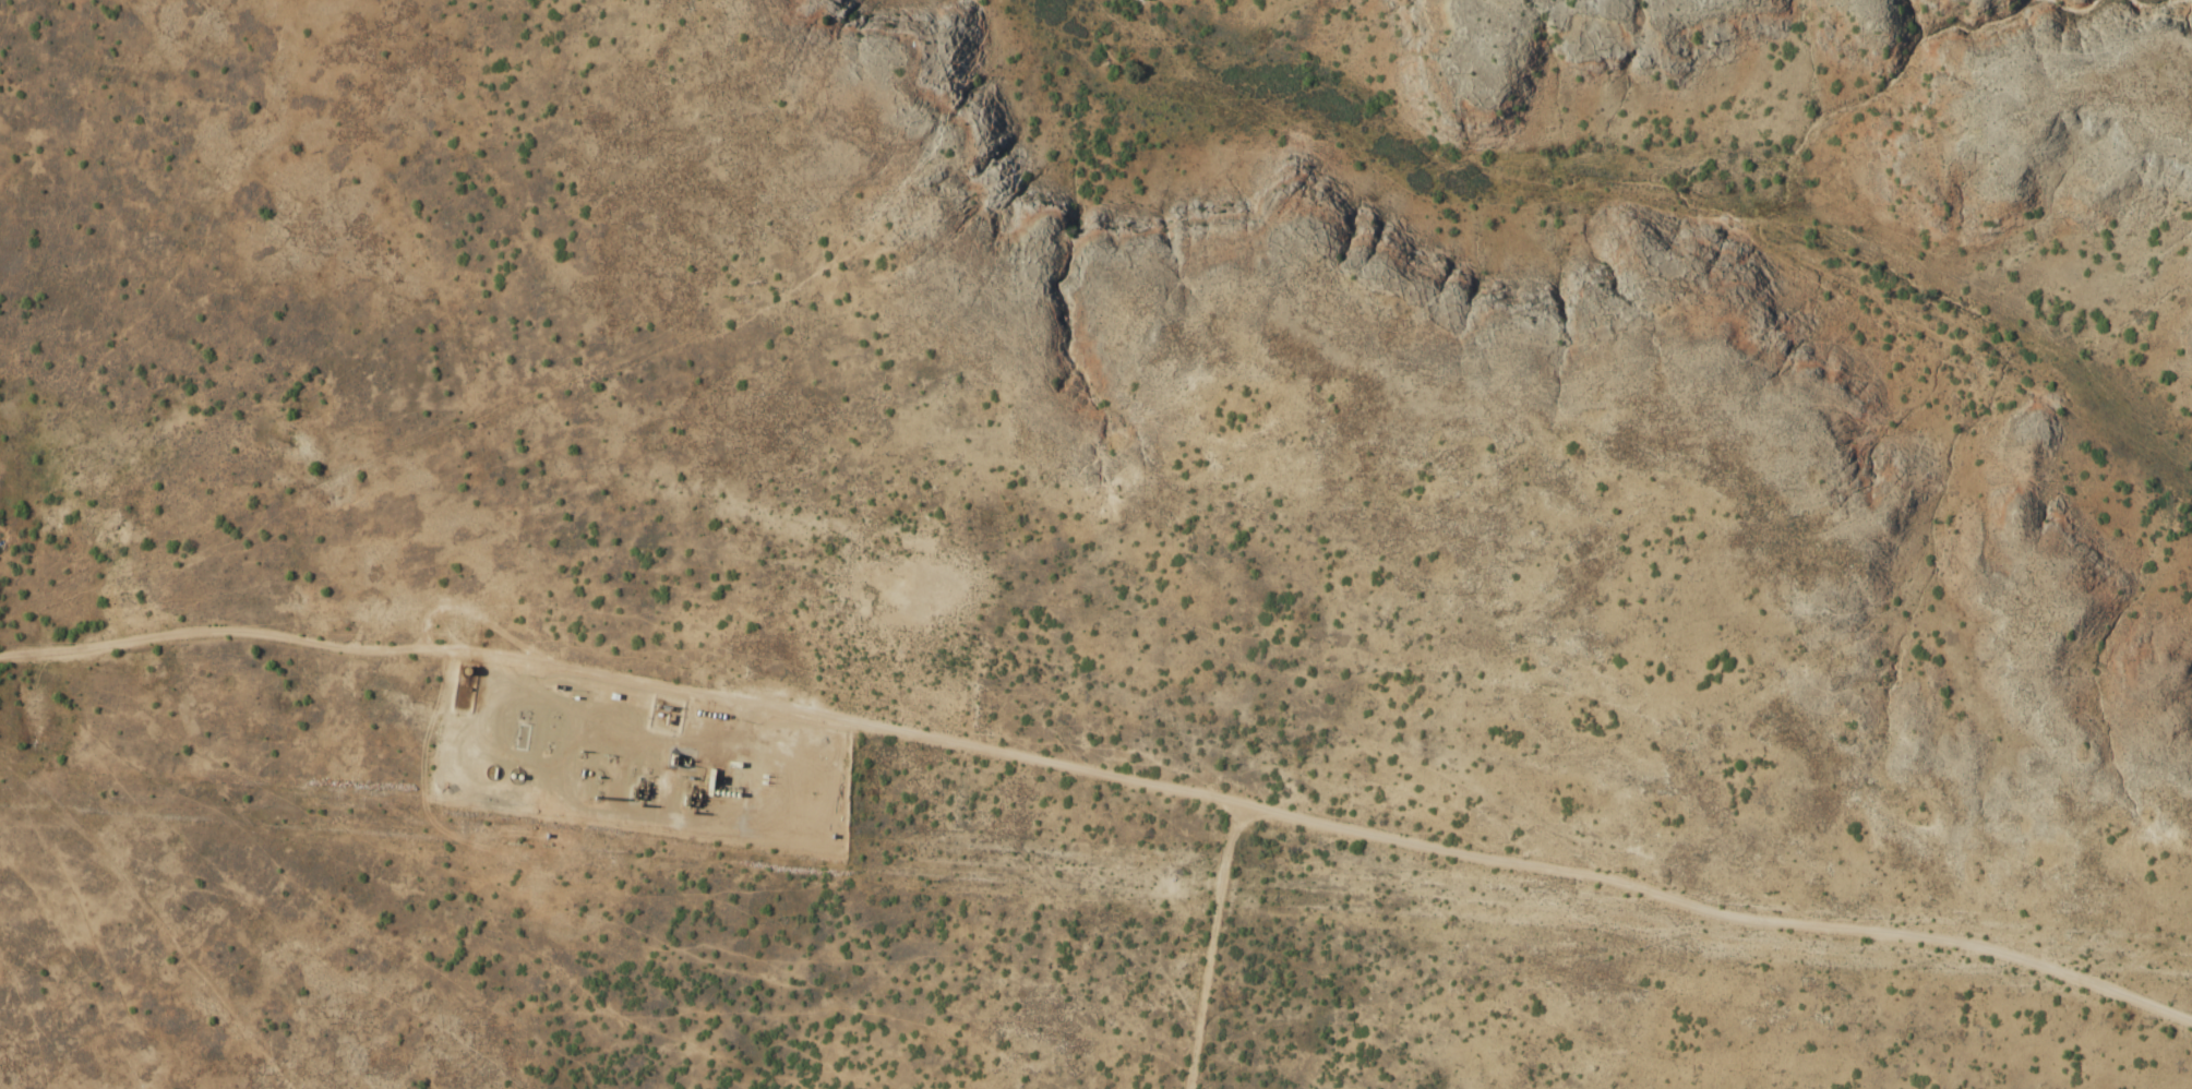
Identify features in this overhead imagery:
road: (1106, 753)
road: (1214, 933)

